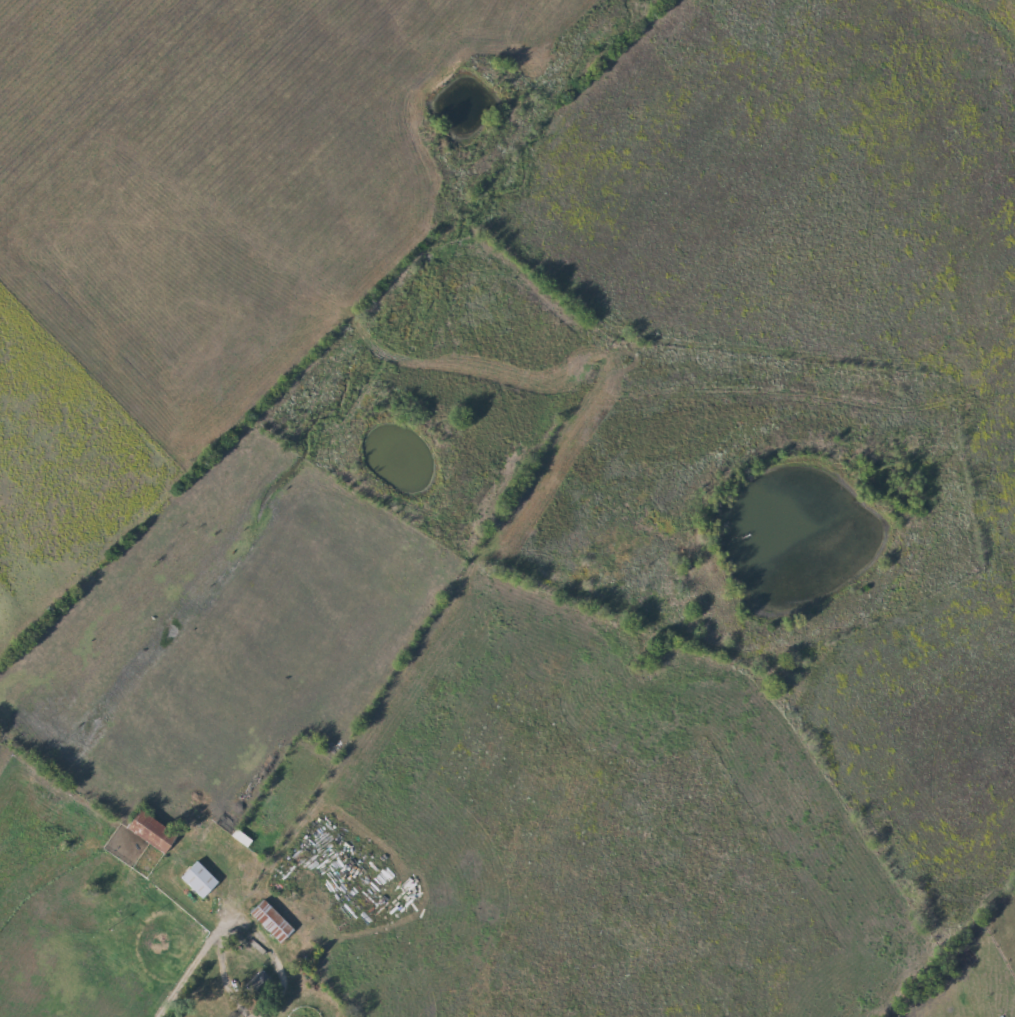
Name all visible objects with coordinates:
building: (154, 831)
building: (202, 880)
building: (274, 922)
road: (278, 949)
road: (198, 965)

